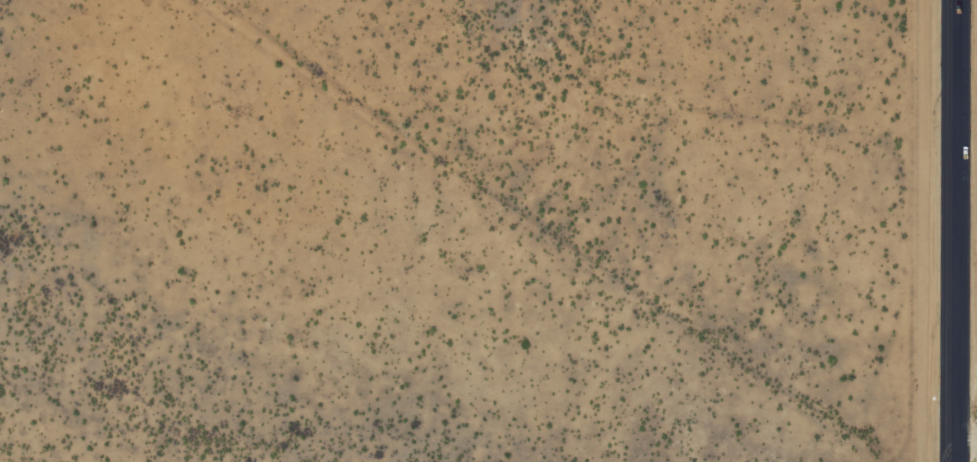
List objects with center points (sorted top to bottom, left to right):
road: (943, 230)

